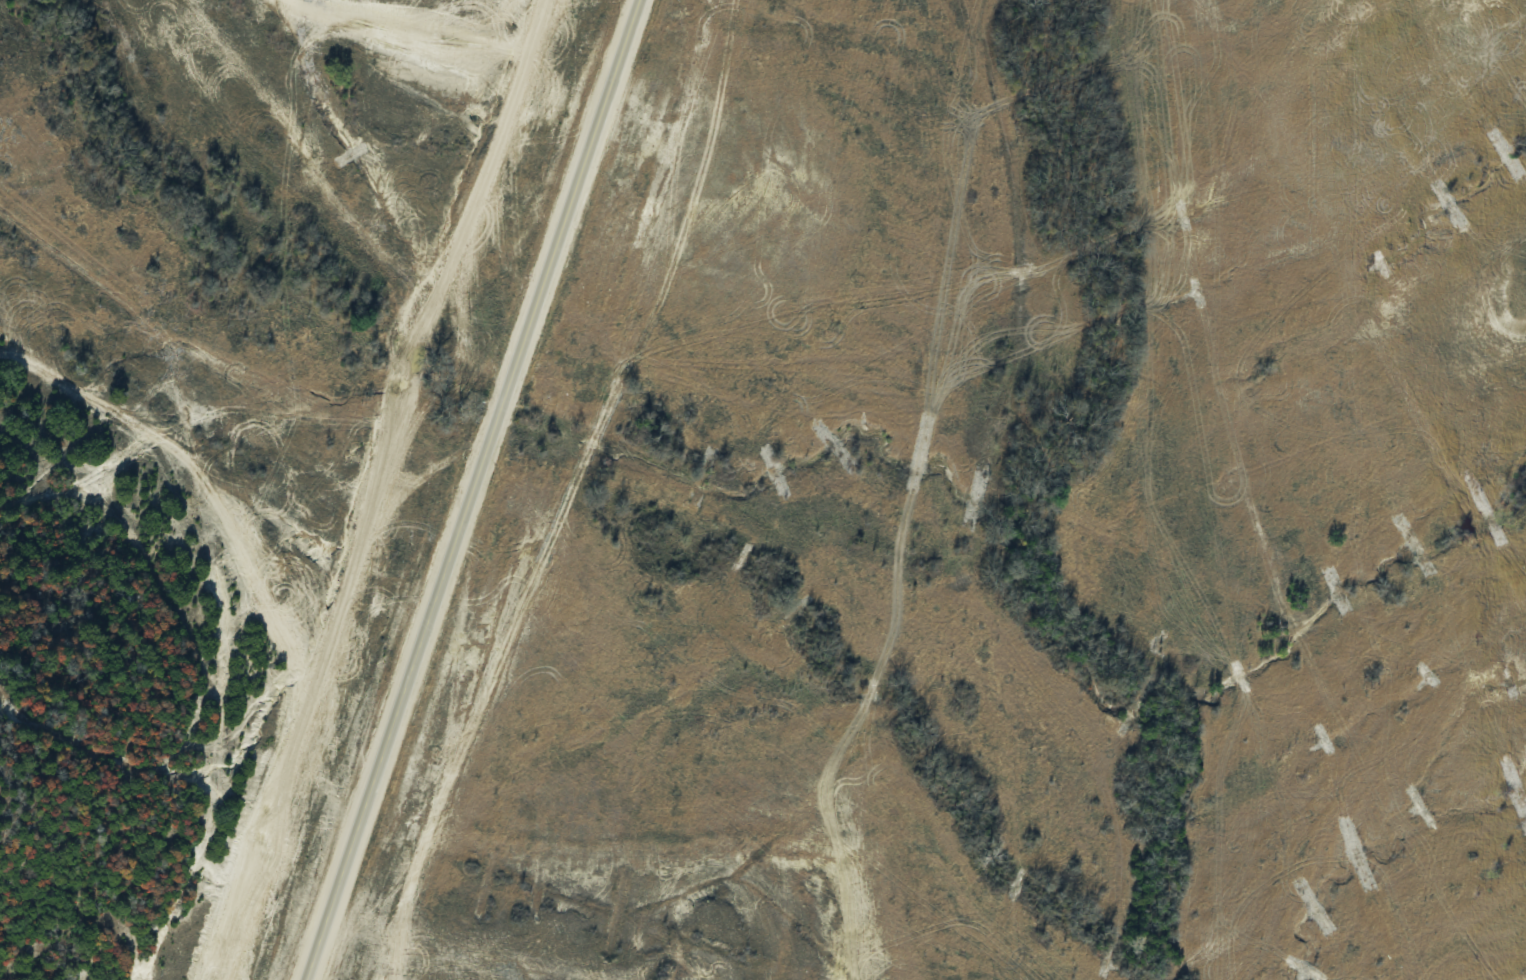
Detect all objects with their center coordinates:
road: (370, 487)
road: (471, 490)

